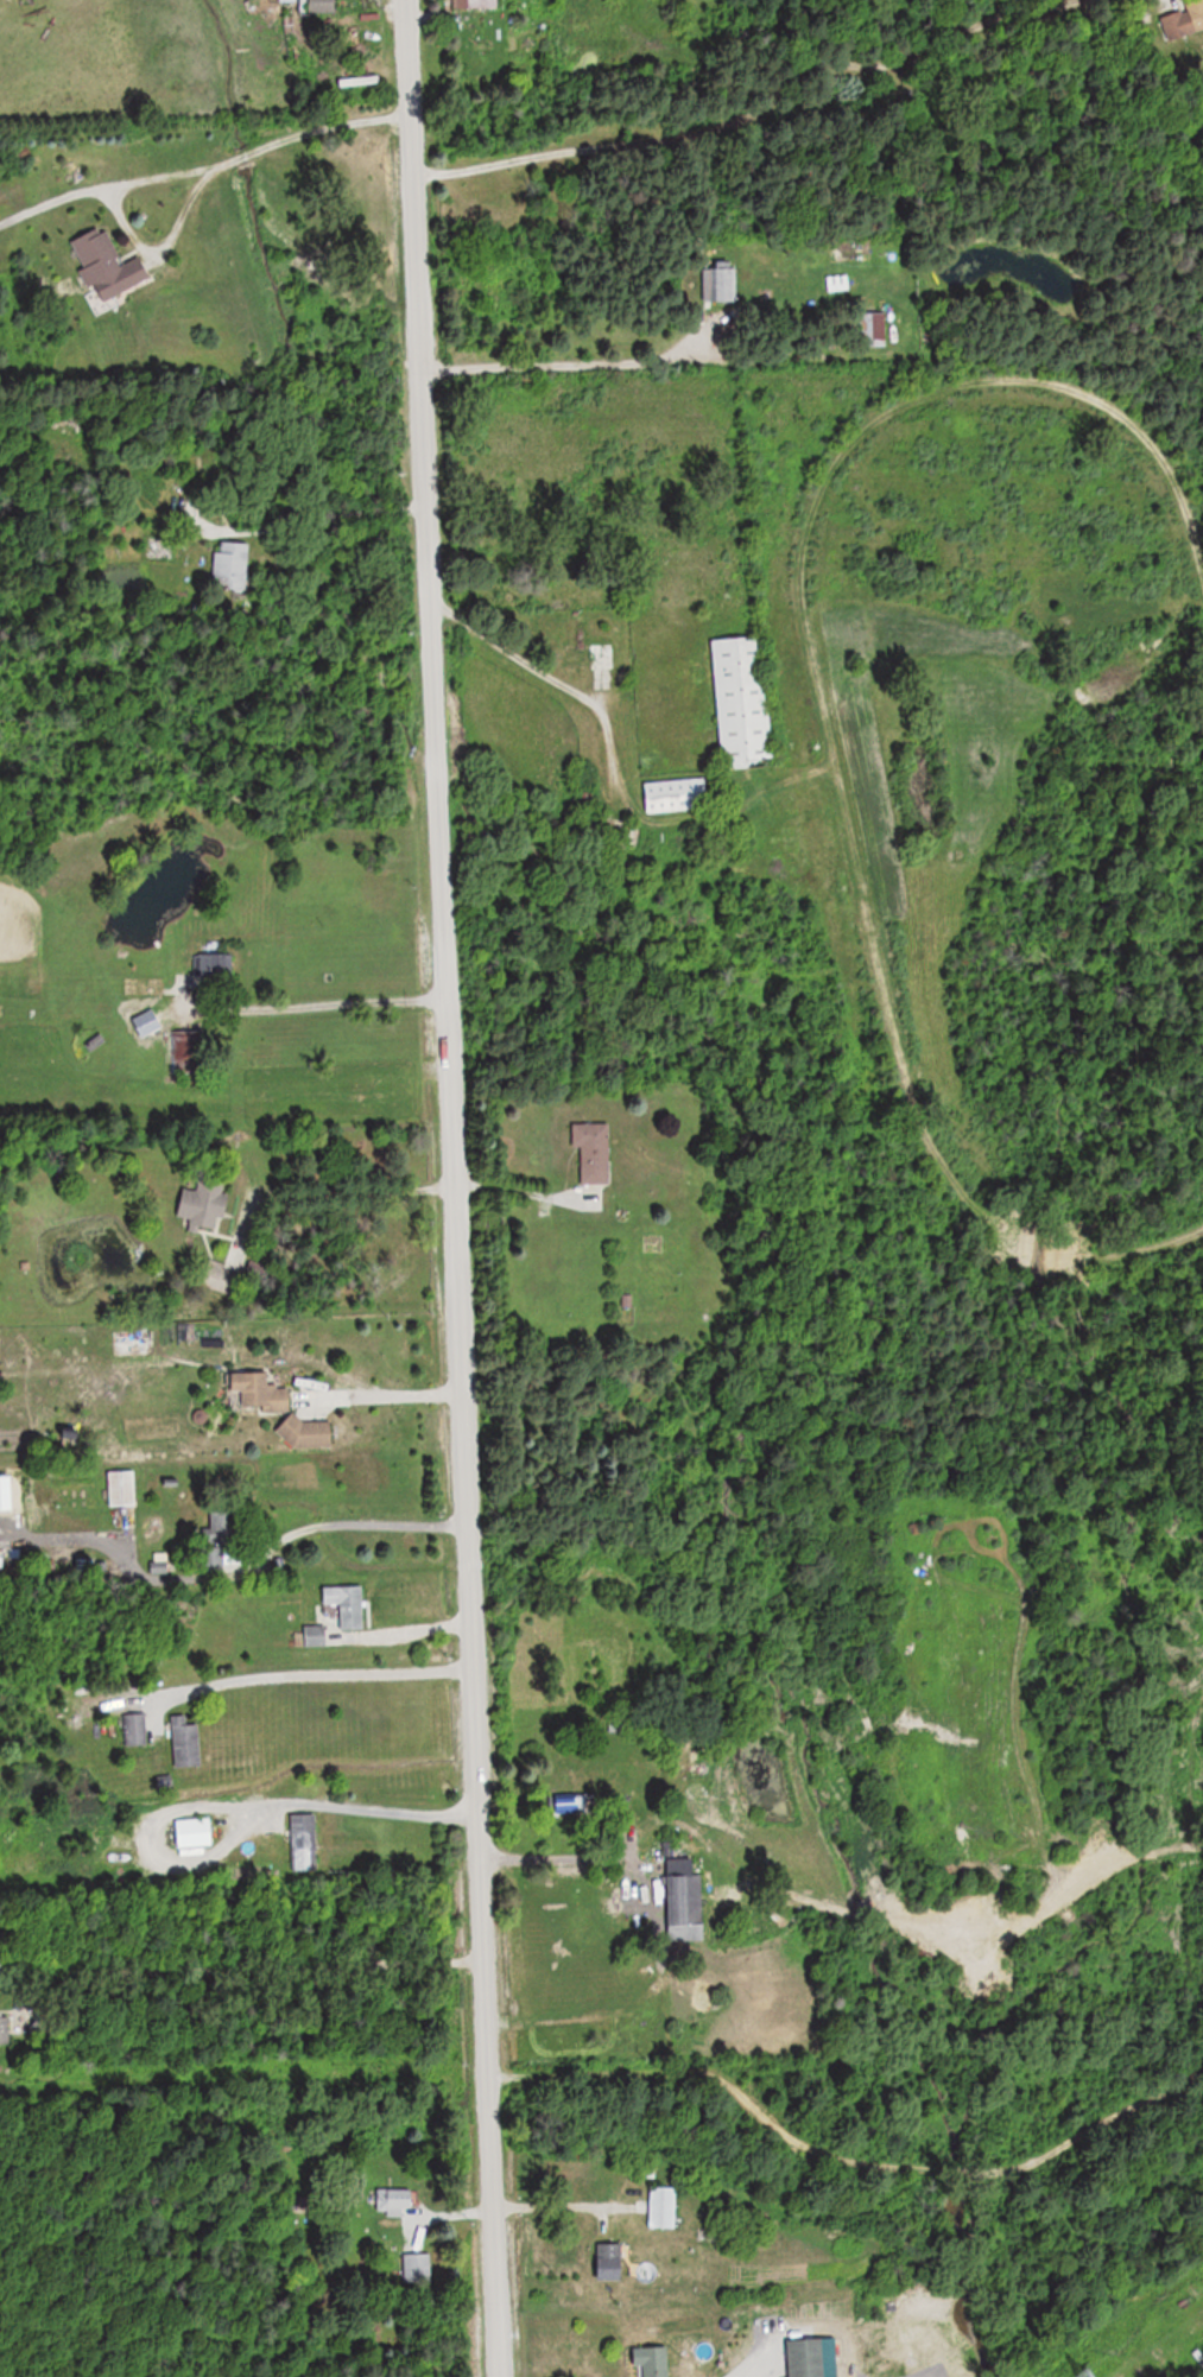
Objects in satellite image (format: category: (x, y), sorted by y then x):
building: (477, 4)
building: (323, 6)
building: (1182, 19)
road: (328, 125)
road: (236, 157)
road: (114, 222)
building: (109, 266)
building: (838, 284)
building: (720, 286)
building: (873, 330)
road: (546, 362)
road: (328, 519)
building: (230, 569)
building: (590, 658)
road: (534, 673)
building: (745, 702)
building: (677, 794)
building: (214, 964)
road: (318, 1008)
building: (185, 1052)
building: (591, 1151)
road: (450, 1187)
road: (350, 1191)
building: (205, 1205)
building: (262, 1392)
road: (386, 1394)
building: (308, 1433)
building: (122, 1488)
road: (346, 1526)
building: (348, 1604)
building: (316, 1635)
road: (310, 1674)
building: (134, 1729)
building: (186, 1742)
road: (365, 1815)
building: (194, 1833)
building: (303, 1837)
road: (549, 1858)
building: (684, 1899)
road: (240, 1971)
building: (1, 2029)
building: (394, 2201)
building: (661, 2207)
road: (562, 2212)
building: (610, 2262)
building: (813, 2358)
building: (652, 2360)
building: (699, 2360)
power tower: (1088, 2376)

